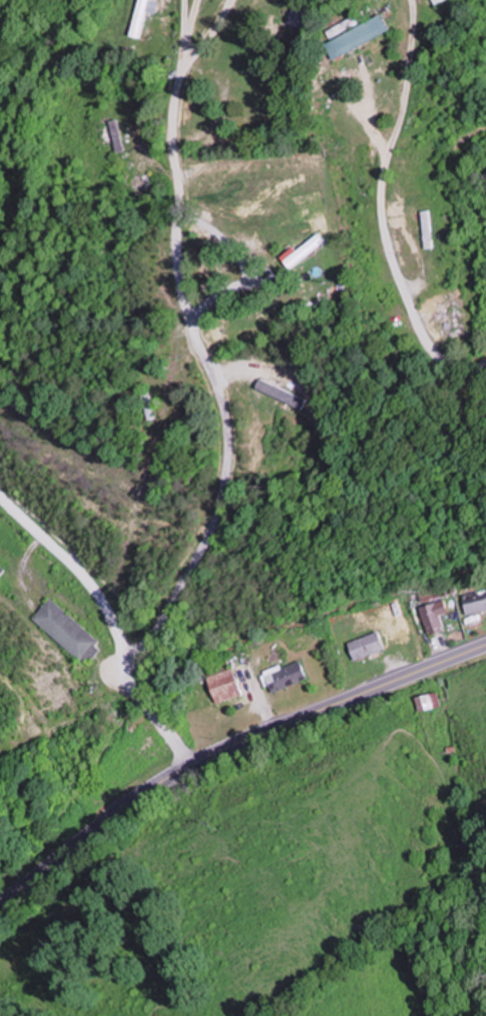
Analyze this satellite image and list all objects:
building: (370, 0)
building: (438, 0)
building: (442, 1)
building: (308, 10)
building: (144, 15)
building: (368, 34)
building: (117, 126)
building: (142, 181)
road: (387, 201)
building: (435, 227)
building: (429, 229)
road: (226, 230)
building: (319, 251)
road: (241, 287)
building: (289, 389)
building: (160, 401)
road: (225, 412)
building: (1, 563)
road: (81, 571)
building: (473, 592)
building: (431, 608)
building: (68, 622)
building: (365, 637)
building: (285, 670)
building: (225, 679)
building: (426, 695)
road: (227, 748)

